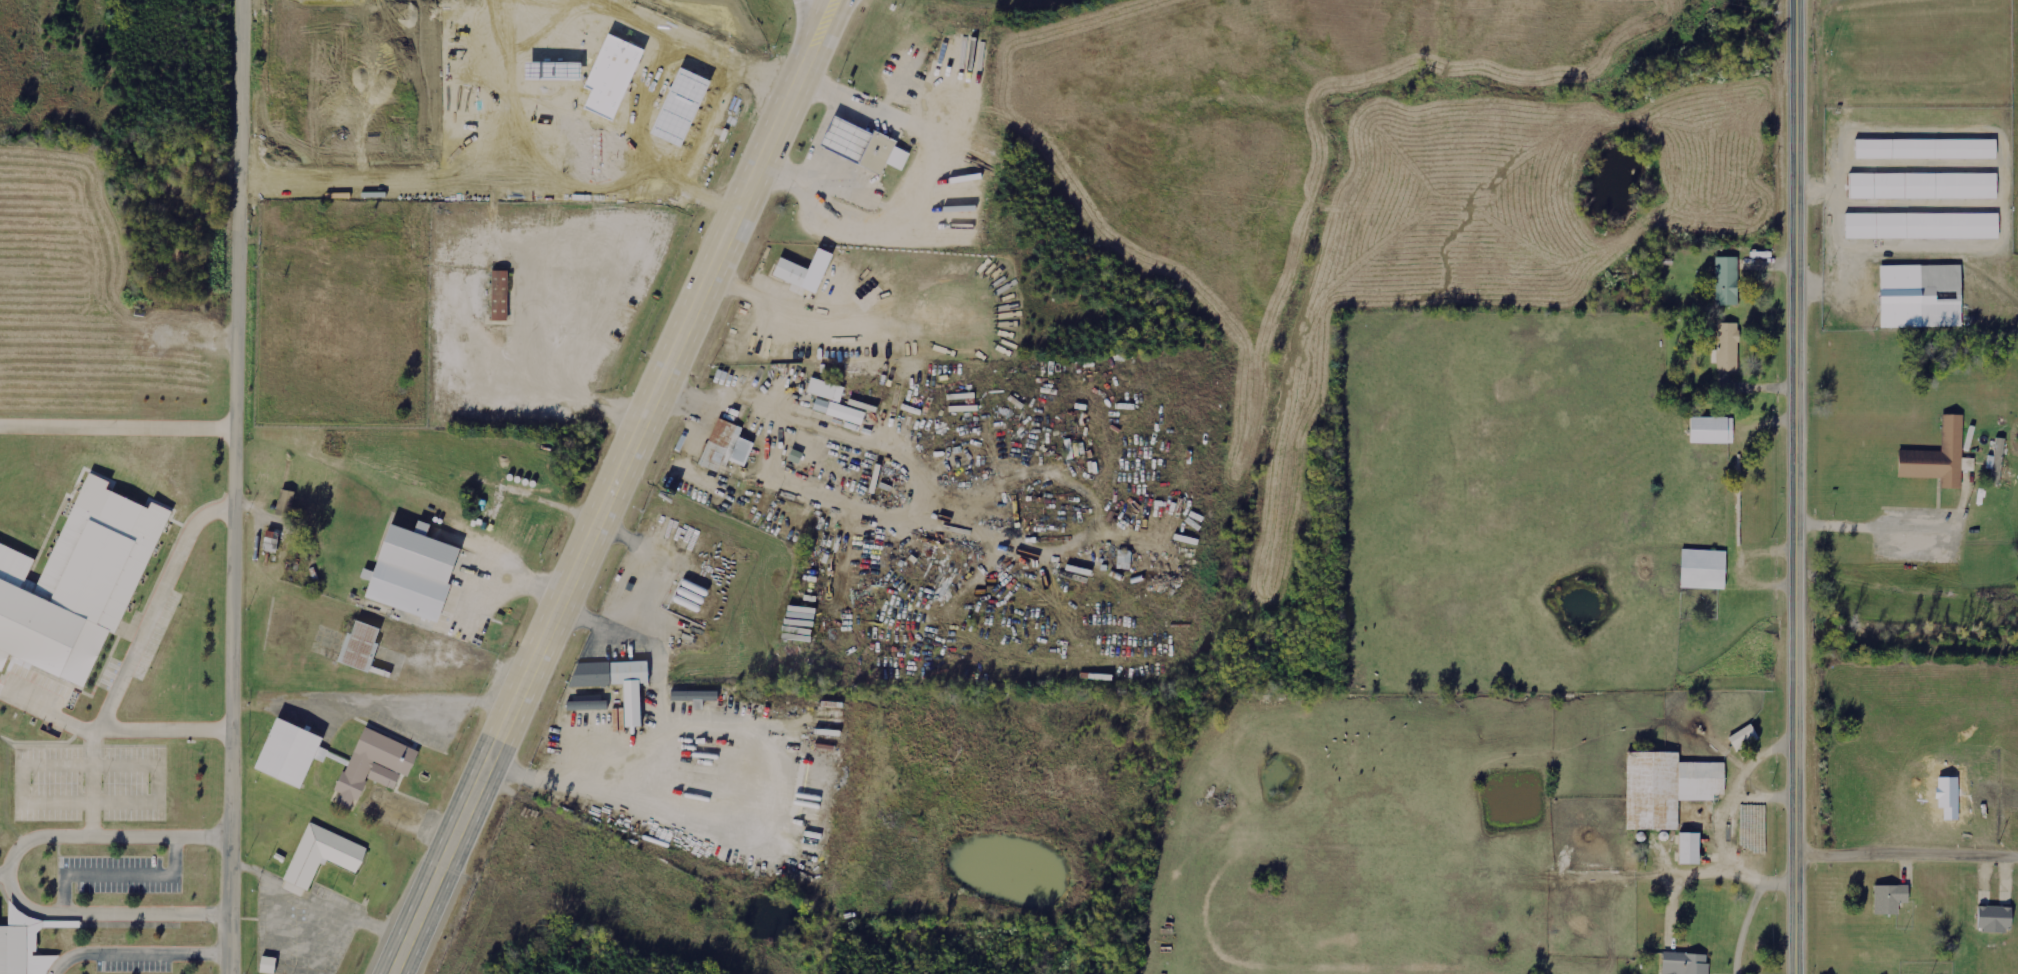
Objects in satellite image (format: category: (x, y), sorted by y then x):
road: (806, 18)
road: (672, 33)
road: (776, 64)
building: (550, 70)
gas station: (550, 70)
building: (610, 74)
road: (505, 92)
road: (556, 92)
road: (764, 92)
building: (677, 106)
gas station: (677, 106)
road: (1799, 110)
road: (646, 111)
road: (702, 124)
building: (841, 138)
gas station: (841, 138)
building: (1926, 148)
building: (879, 152)
road: (488, 184)
building: (1923, 186)
building: (1922, 226)
building: (804, 270)
building: (1727, 280)
building: (499, 295)
building: (1920, 295)
building: (1727, 347)
building: (825, 389)
building: (839, 411)
road: (119, 423)
building: (1712, 430)
building: (725, 446)
building: (1939, 457)
road: (608, 486)
road: (237, 487)
building: (285, 502)
building: (422, 528)
building: (1124, 559)
building: (1703, 569)
building: (411, 573)
road: (522, 576)
building: (71, 586)
road: (1800, 597)
road: (155, 603)
building: (360, 646)
building: (616, 682)
building: (694, 696)
building: (588, 705)
road: (111, 728)
building: (1744, 737)
building: (281, 752)
building: (369, 765)
building: (1666, 787)
road: (1909, 825)
building: (1689, 848)
building: (319, 852)
road: (5, 872)
road: (11, 872)
building: (294, 889)
building: (1889, 899)
building: (1994, 919)
building: (11, 949)
road: (137, 950)
building: (1685, 963)
building: (268, 965)

